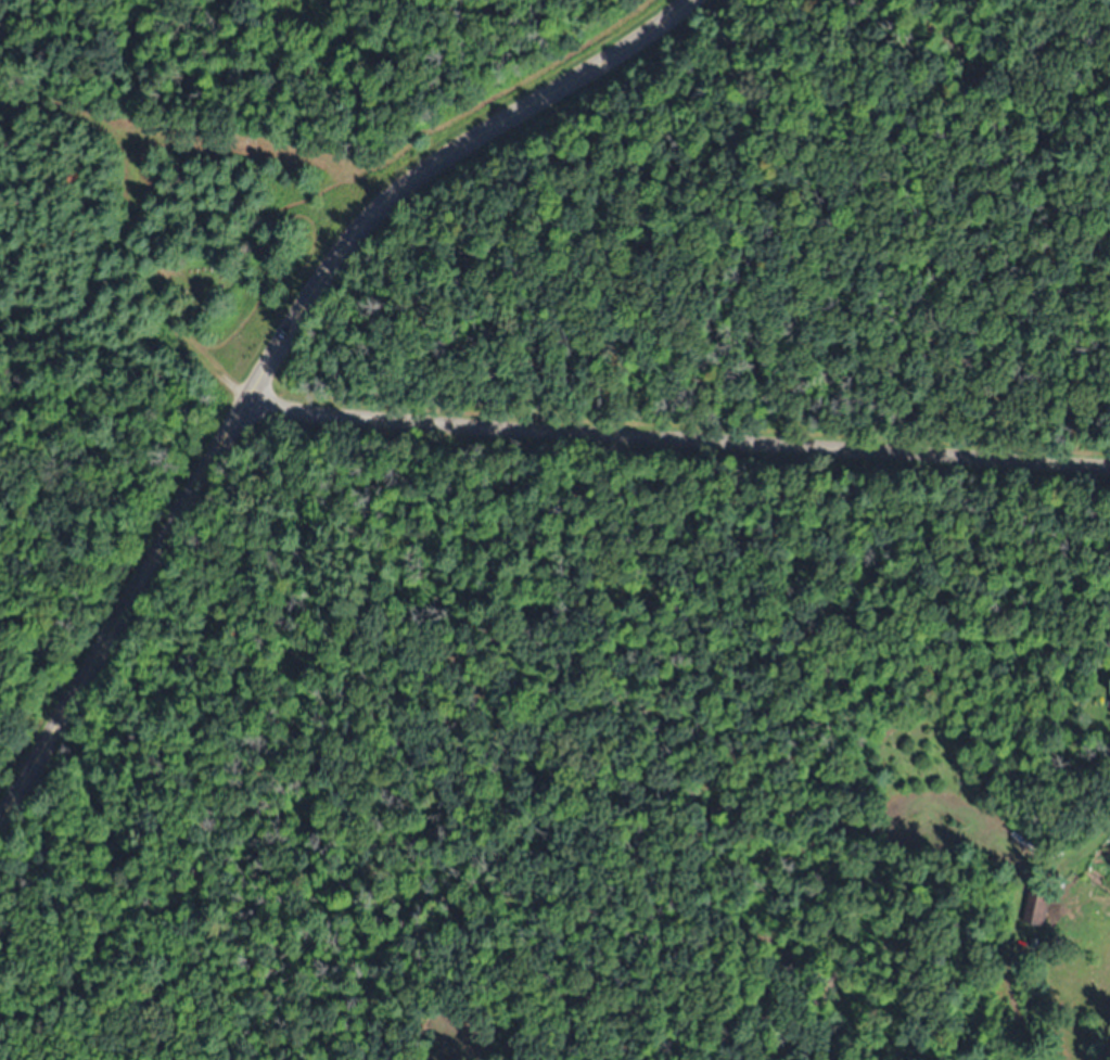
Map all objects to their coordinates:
road: (272, 353)
road: (678, 434)
building: (1037, 909)

